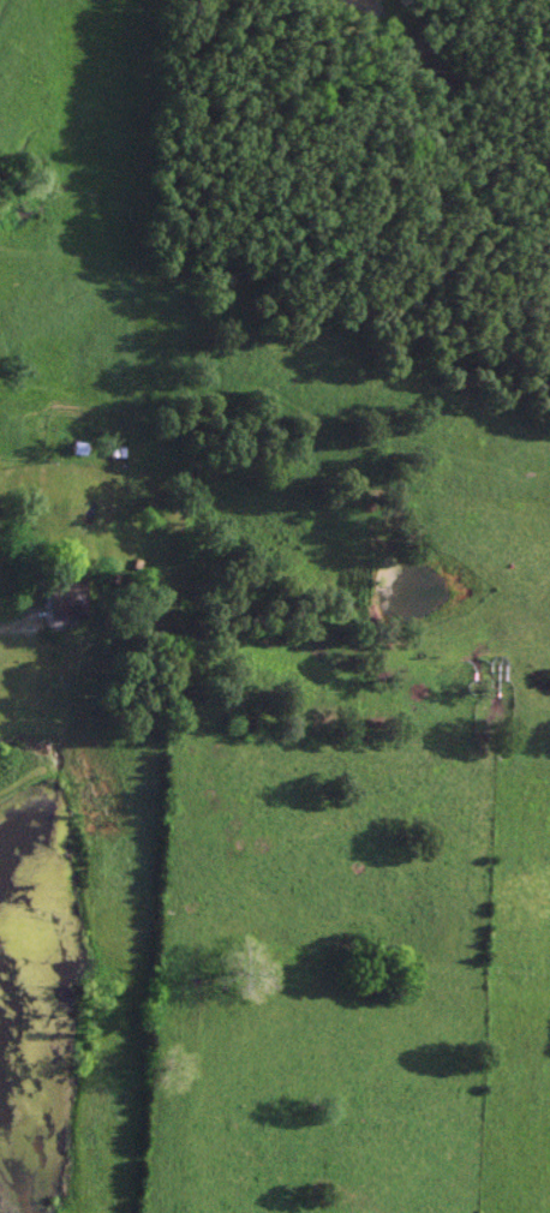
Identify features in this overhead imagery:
building: (67, 598)
road: (19, 622)

